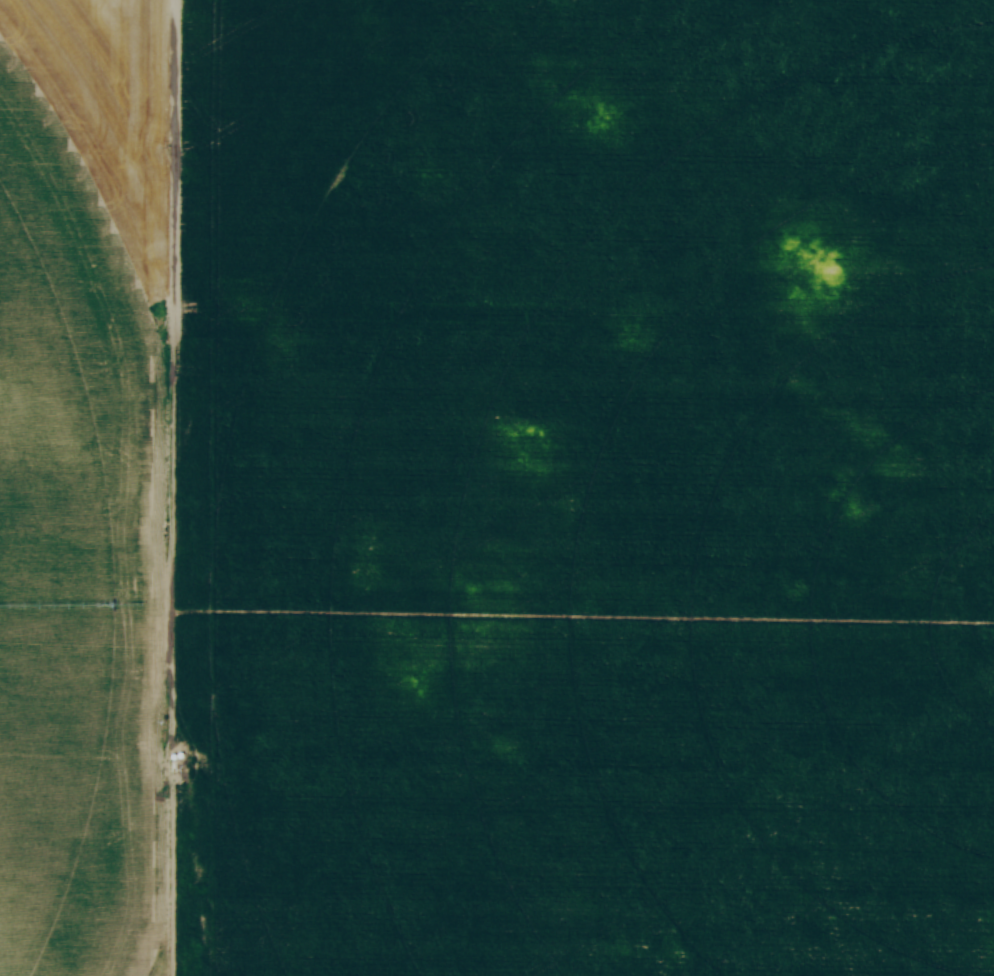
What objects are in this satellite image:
crop: (497, 487)

